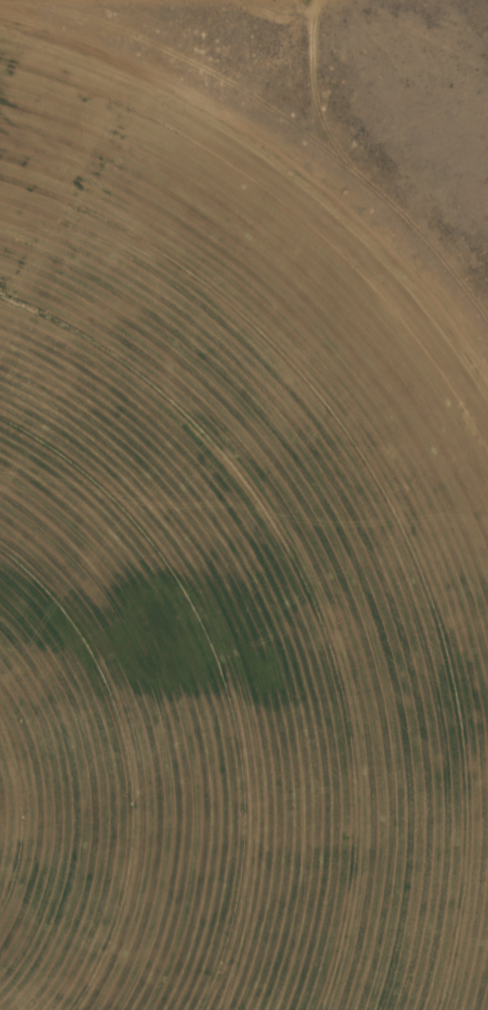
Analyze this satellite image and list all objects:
crop: (227, 580)

